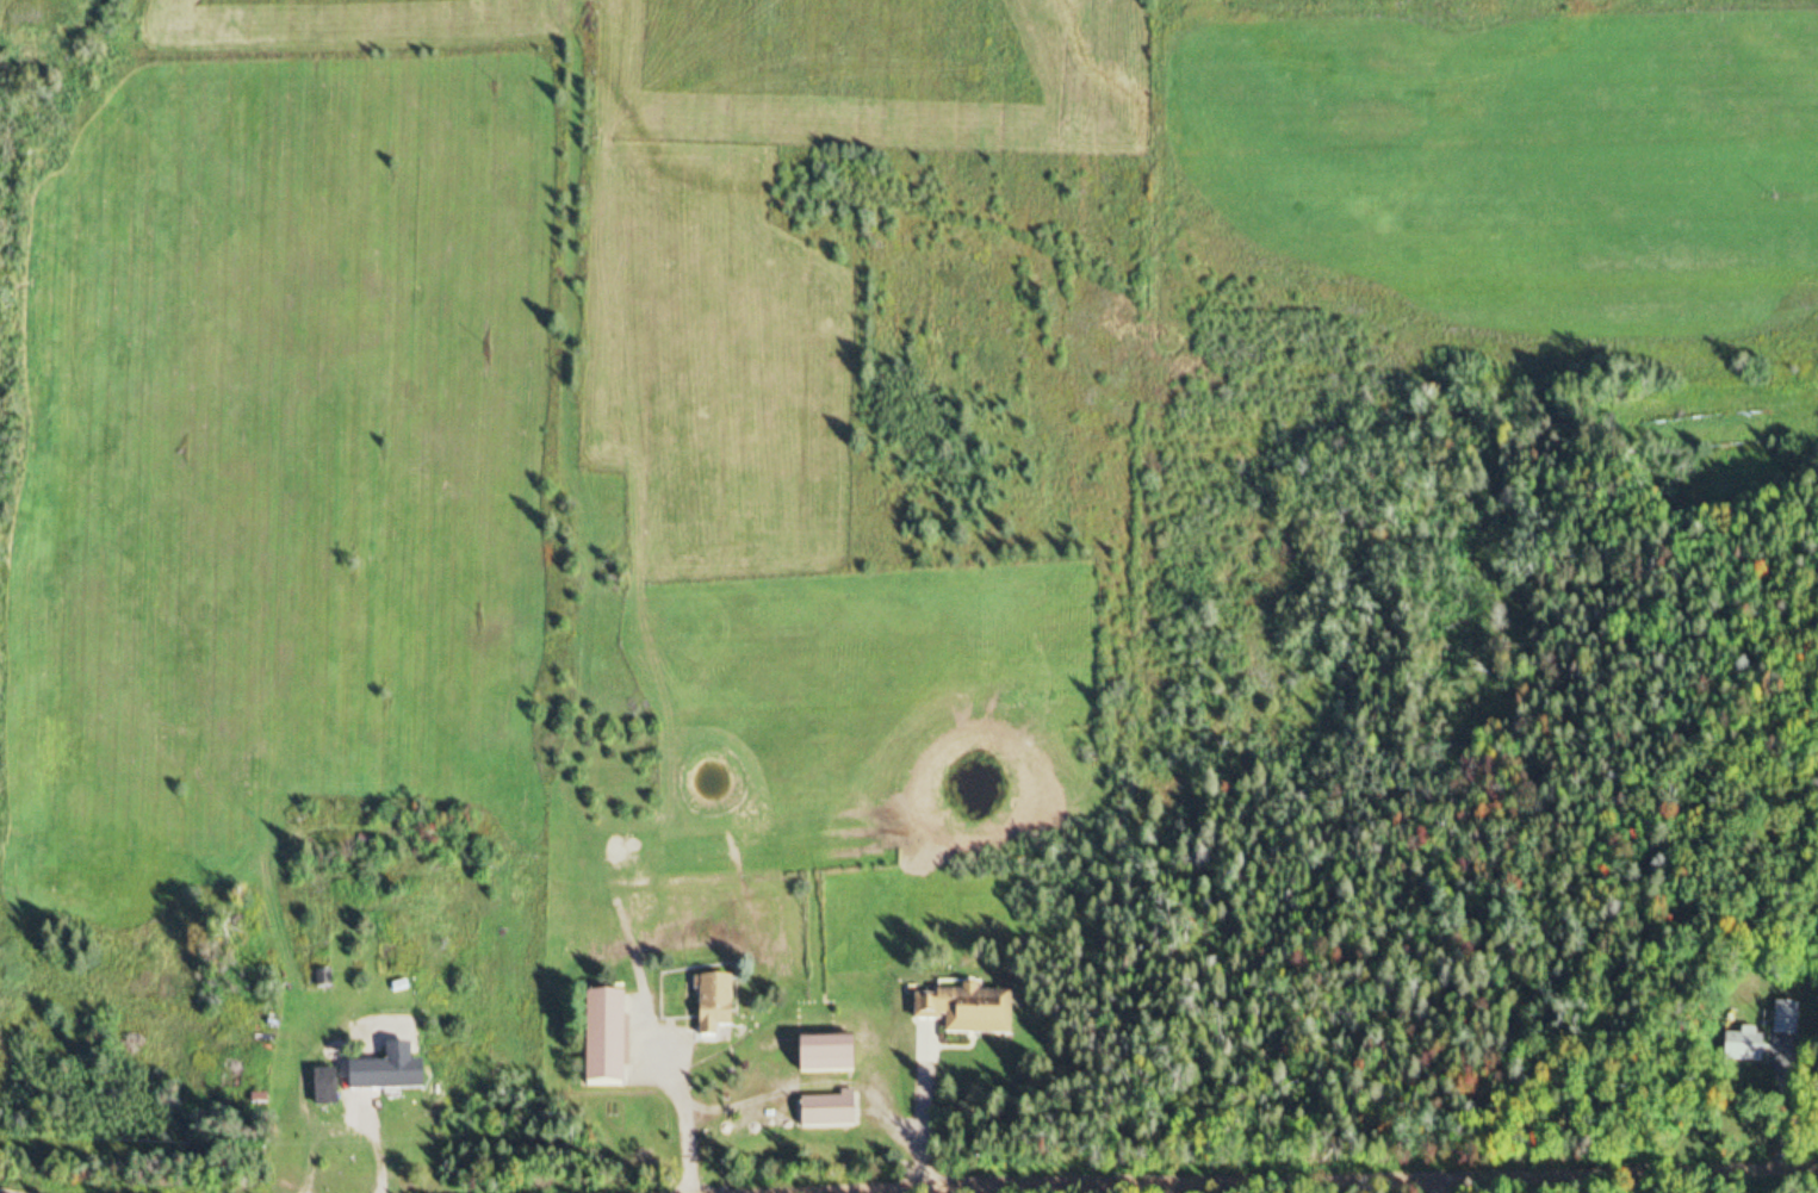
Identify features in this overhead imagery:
building: (329, 980)
building: (955, 1012)
building: (708, 1015)
building: (1779, 1021)
building: (594, 1040)
building: (1735, 1050)
building: (815, 1056)
building: (411, 1076)
building: (333, 1089)
building: (823, 1113)

